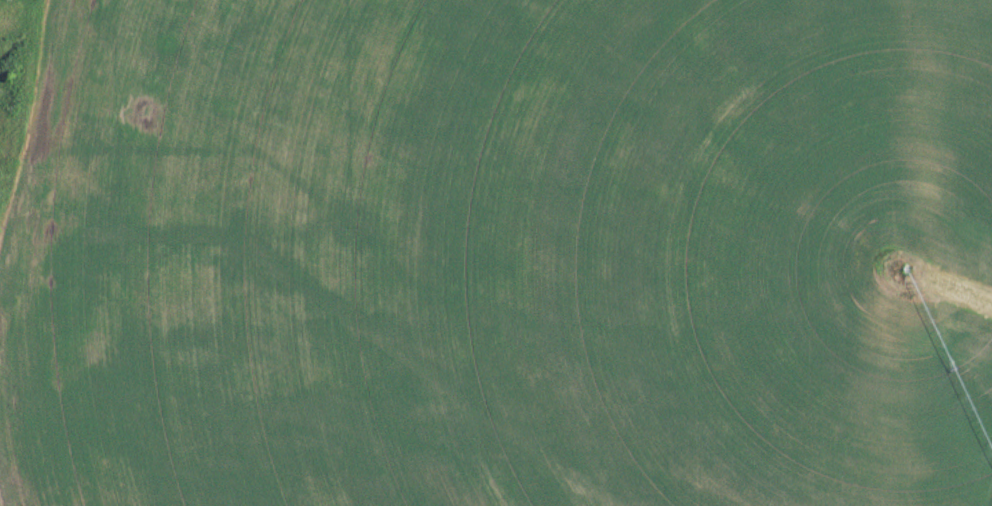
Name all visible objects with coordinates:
wastewater plant: (496, 253)
crop: (500, 254)

